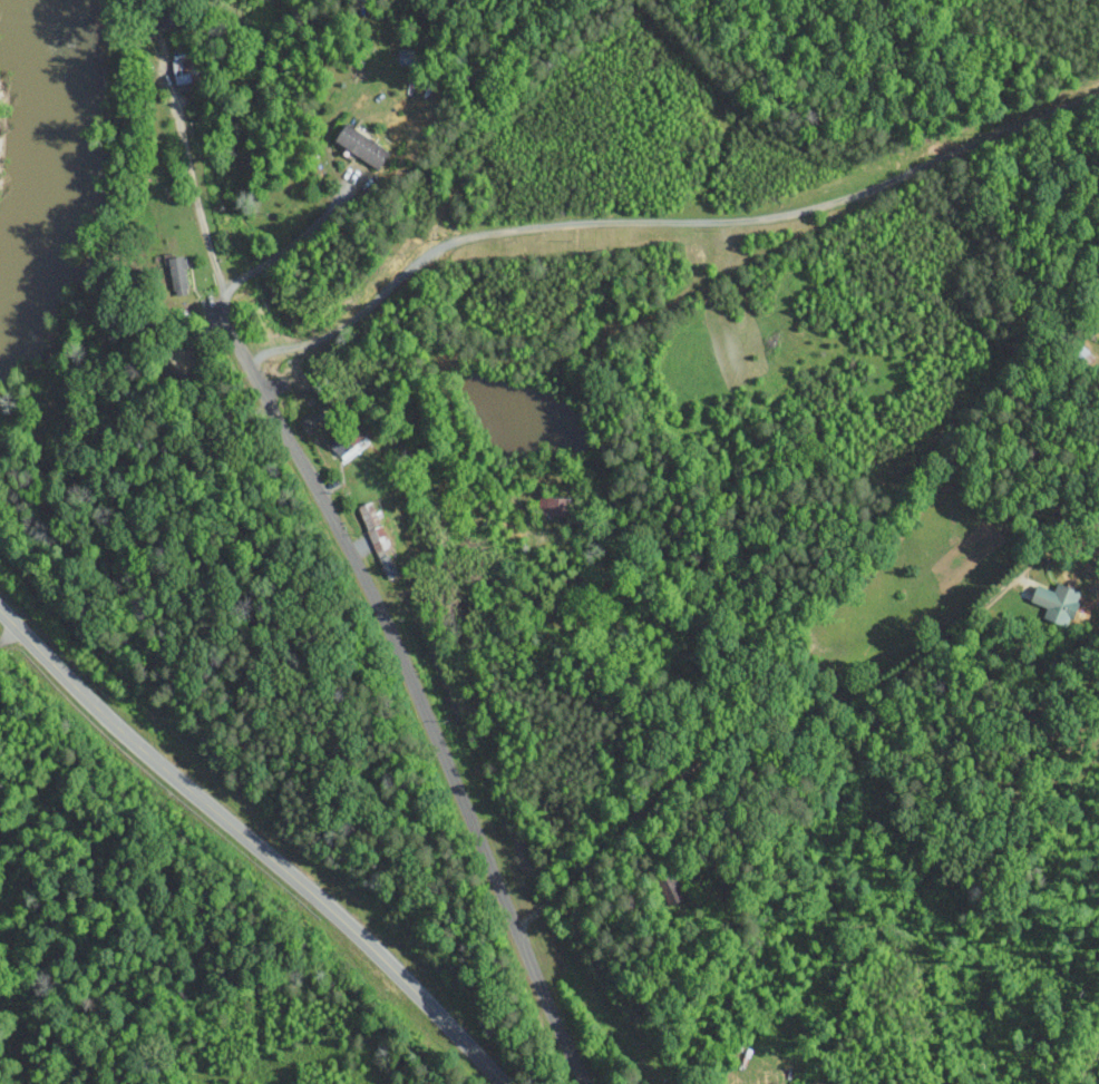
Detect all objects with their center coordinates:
building: (405, 56)
building: (183, 68)
building: (360, 146)
river: (64, 175)
road: (197, 194)
road: (664, 219)
road: (292, 240)
building: (177, 276)
road: (191, 342)
parking lot: (188, 364)
road: (120, 380)
building: (347, 438)
building: (554, 505)
building: (372, 524)
building: (387, 563)
building: (1057, 602)
road: (412, 684)
road: (760, 719)
road: (255, 842)

